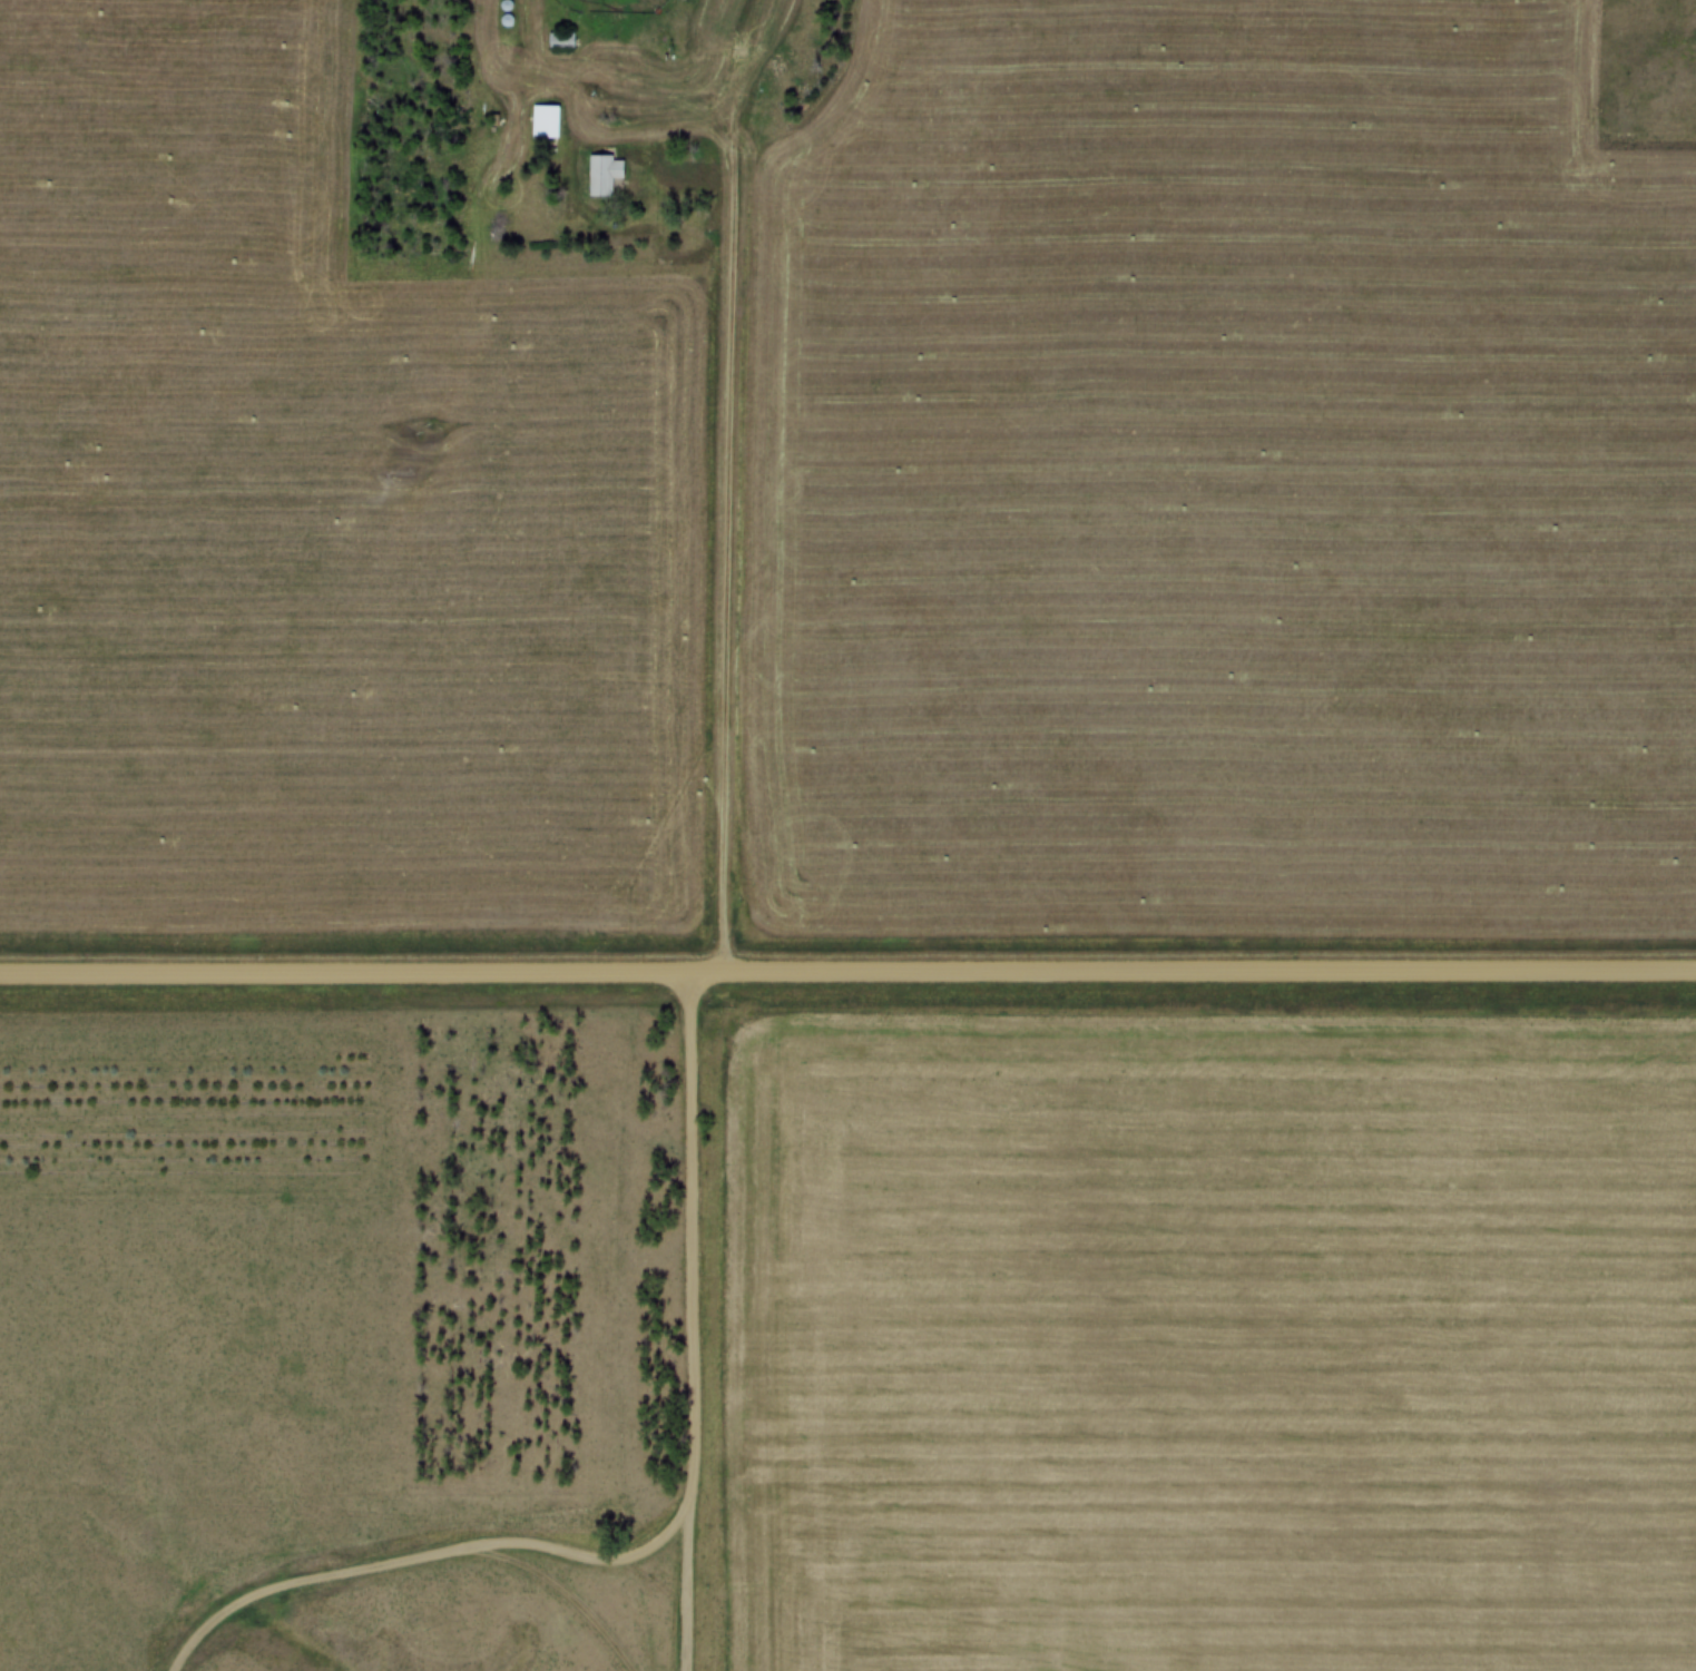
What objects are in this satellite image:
building: (558, 45)
building: (545, 125)
building: (602, 177)
road: (847, 969)
road: (685, 1320)
road: (427, 1563)

